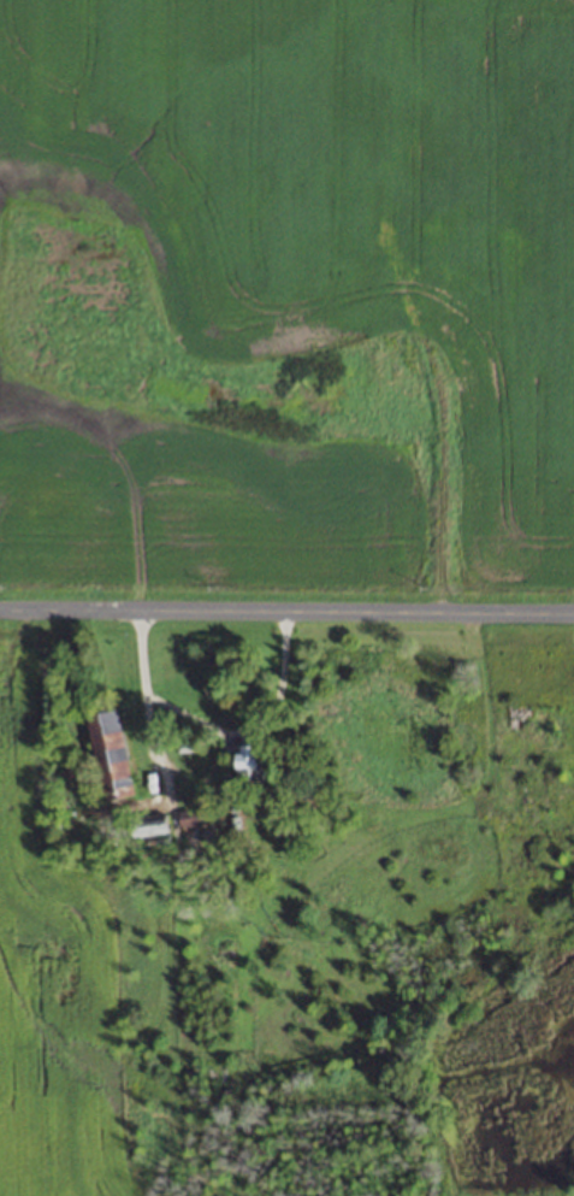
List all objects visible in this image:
road: (286, 613)
building: (108, 754)
building: (248, 760)

